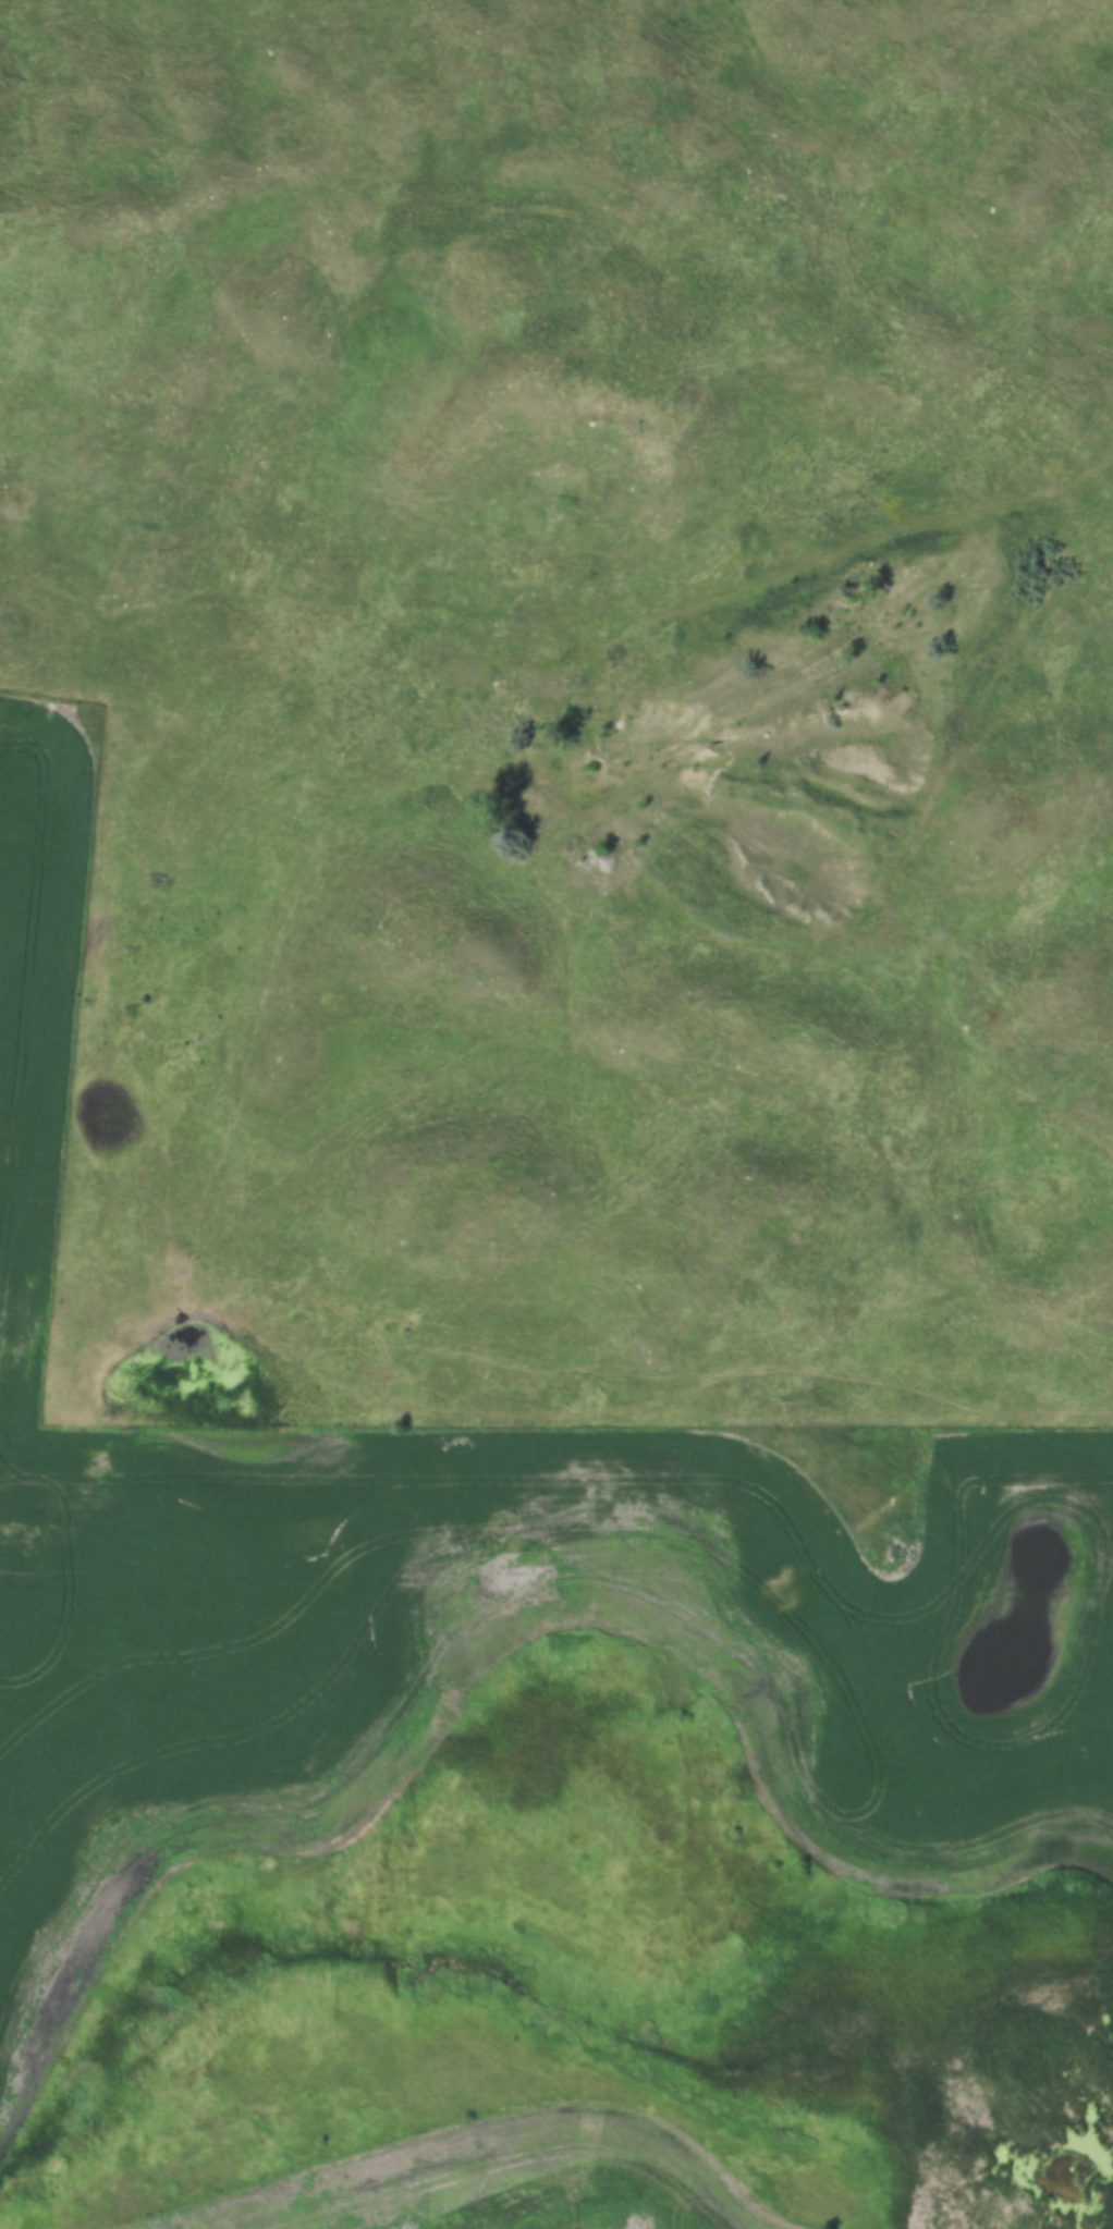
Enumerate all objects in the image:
quarry: (772, 735)
road: (102, 1440)

